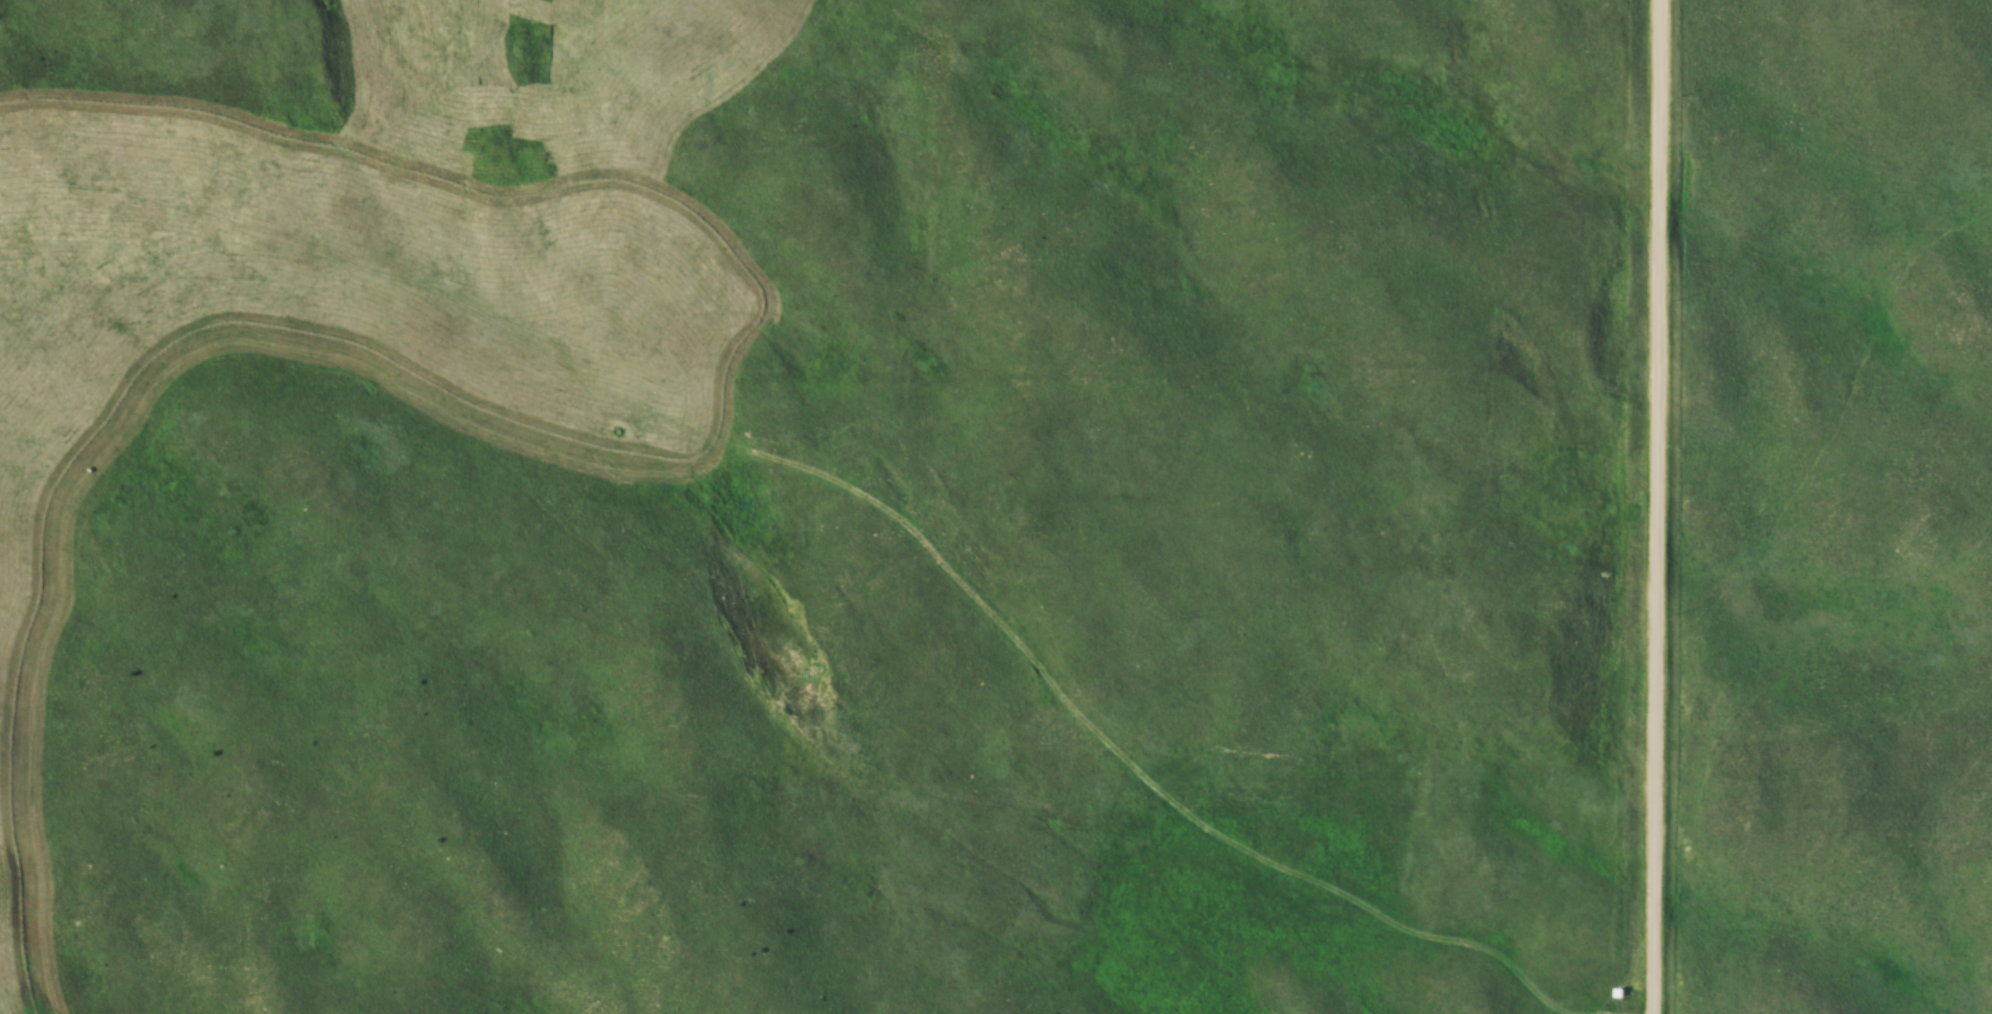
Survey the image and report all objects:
road: (1655, 506)

